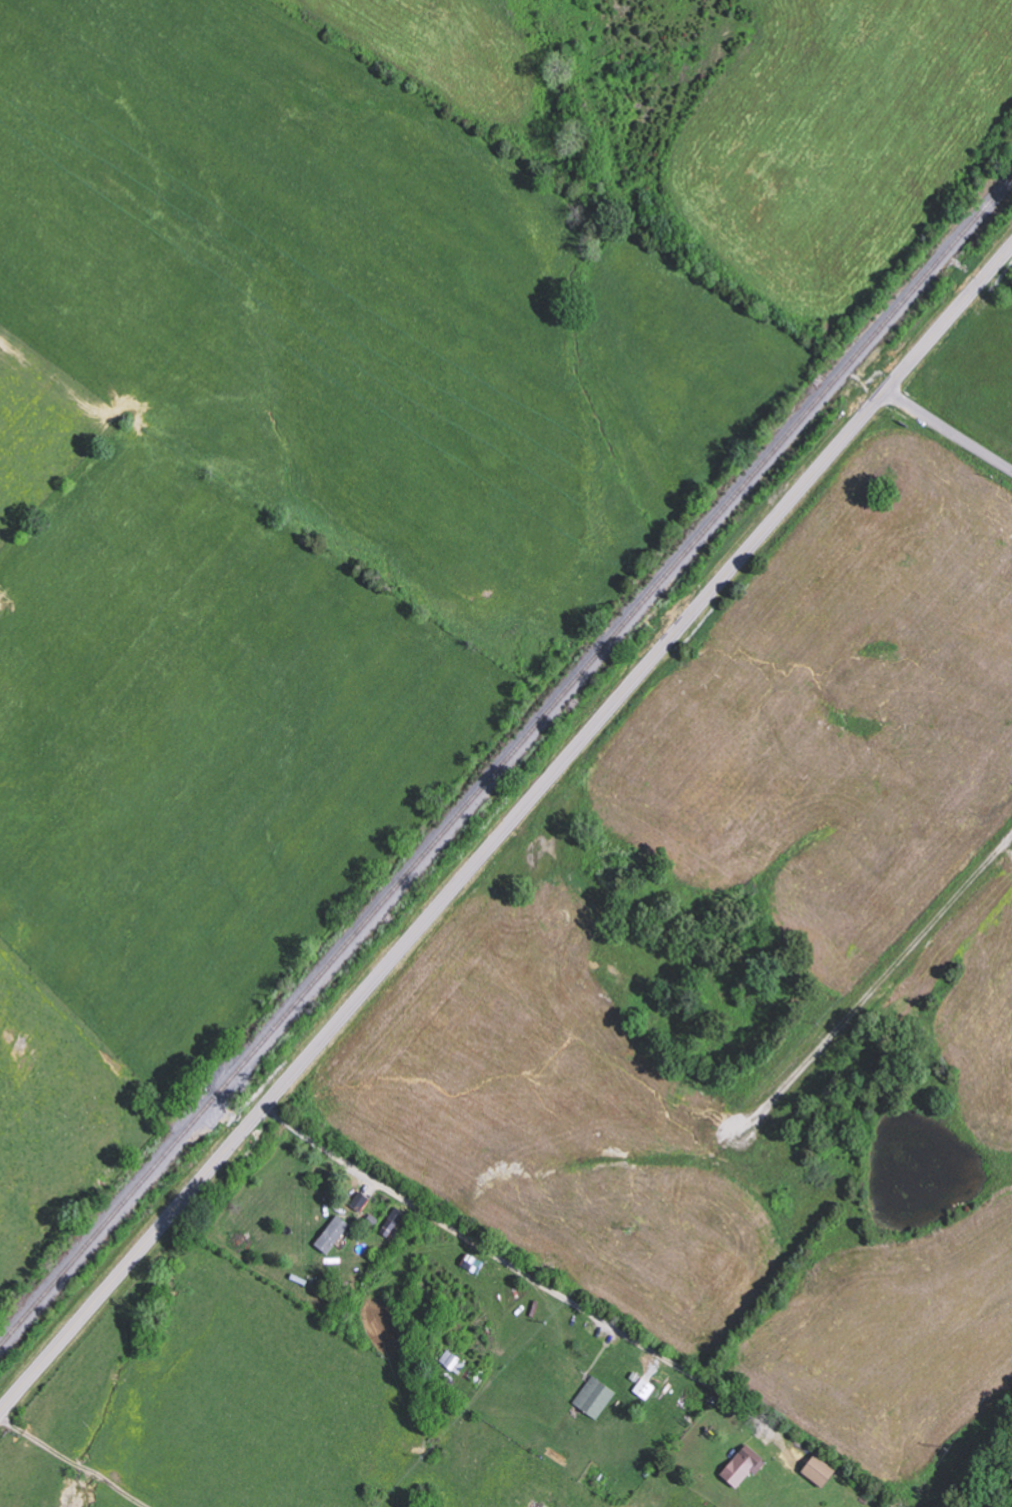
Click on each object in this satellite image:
road: (950, 428)
railway: (506, 764)
road: (505, 831)
building: (394, 1222)
building: (335, 1234)
road: (432, 1326)
building: (454, 1362)
building: (597, 1397)
road: (74, 1454)
building: (745, 1467)
building: (823, 1472)

